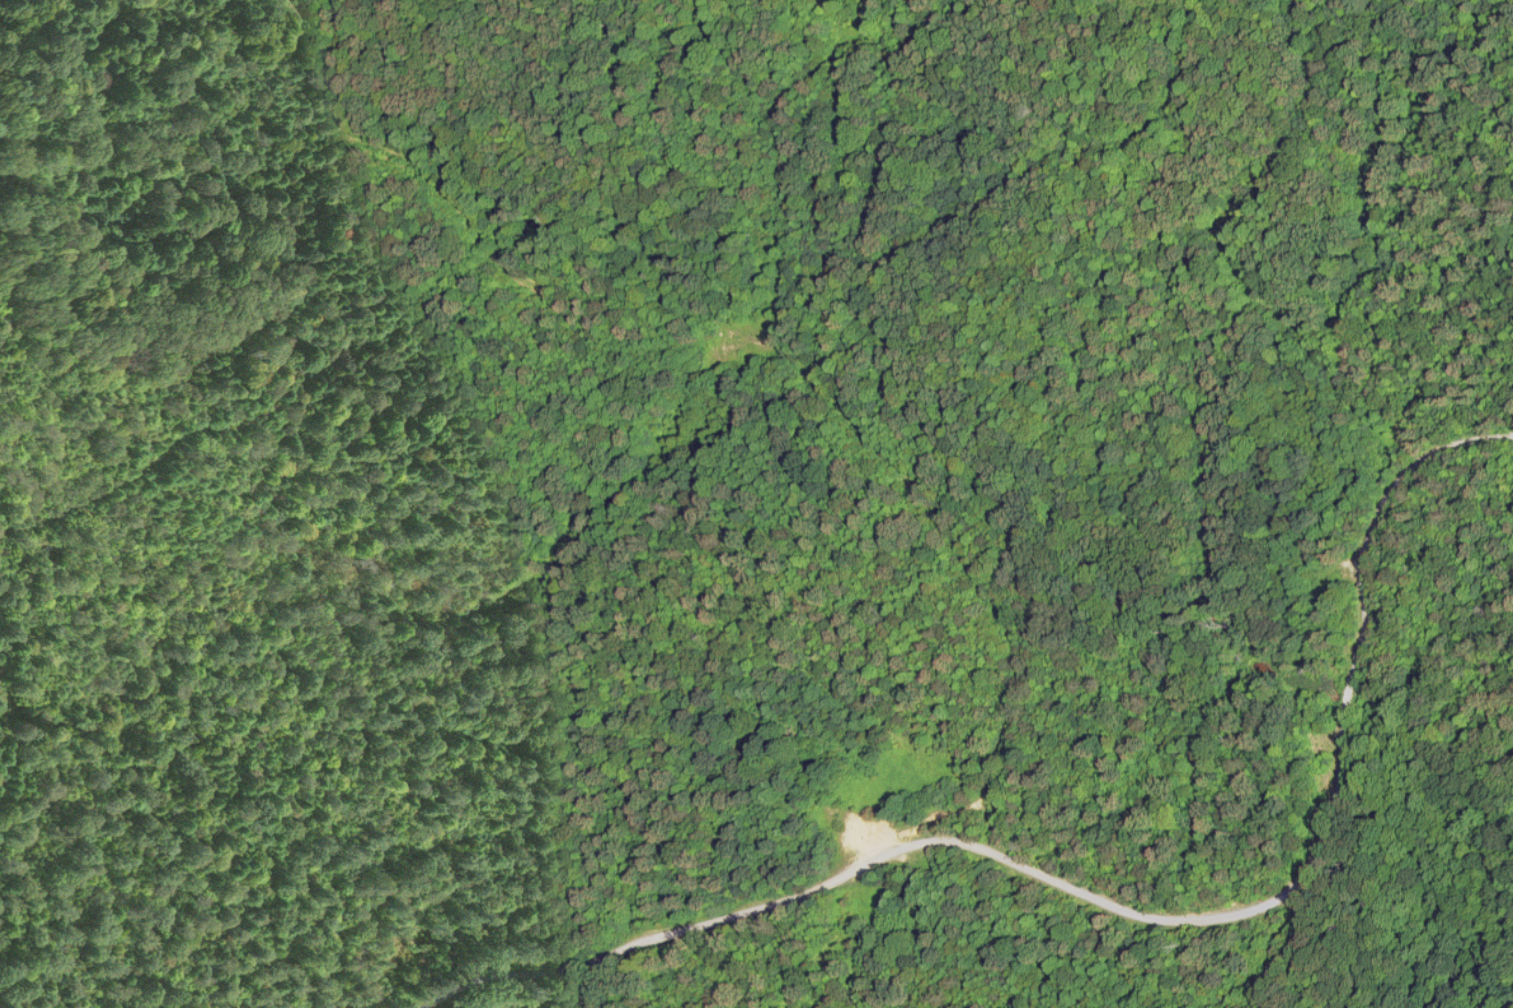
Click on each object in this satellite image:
road: (1119, 909)

